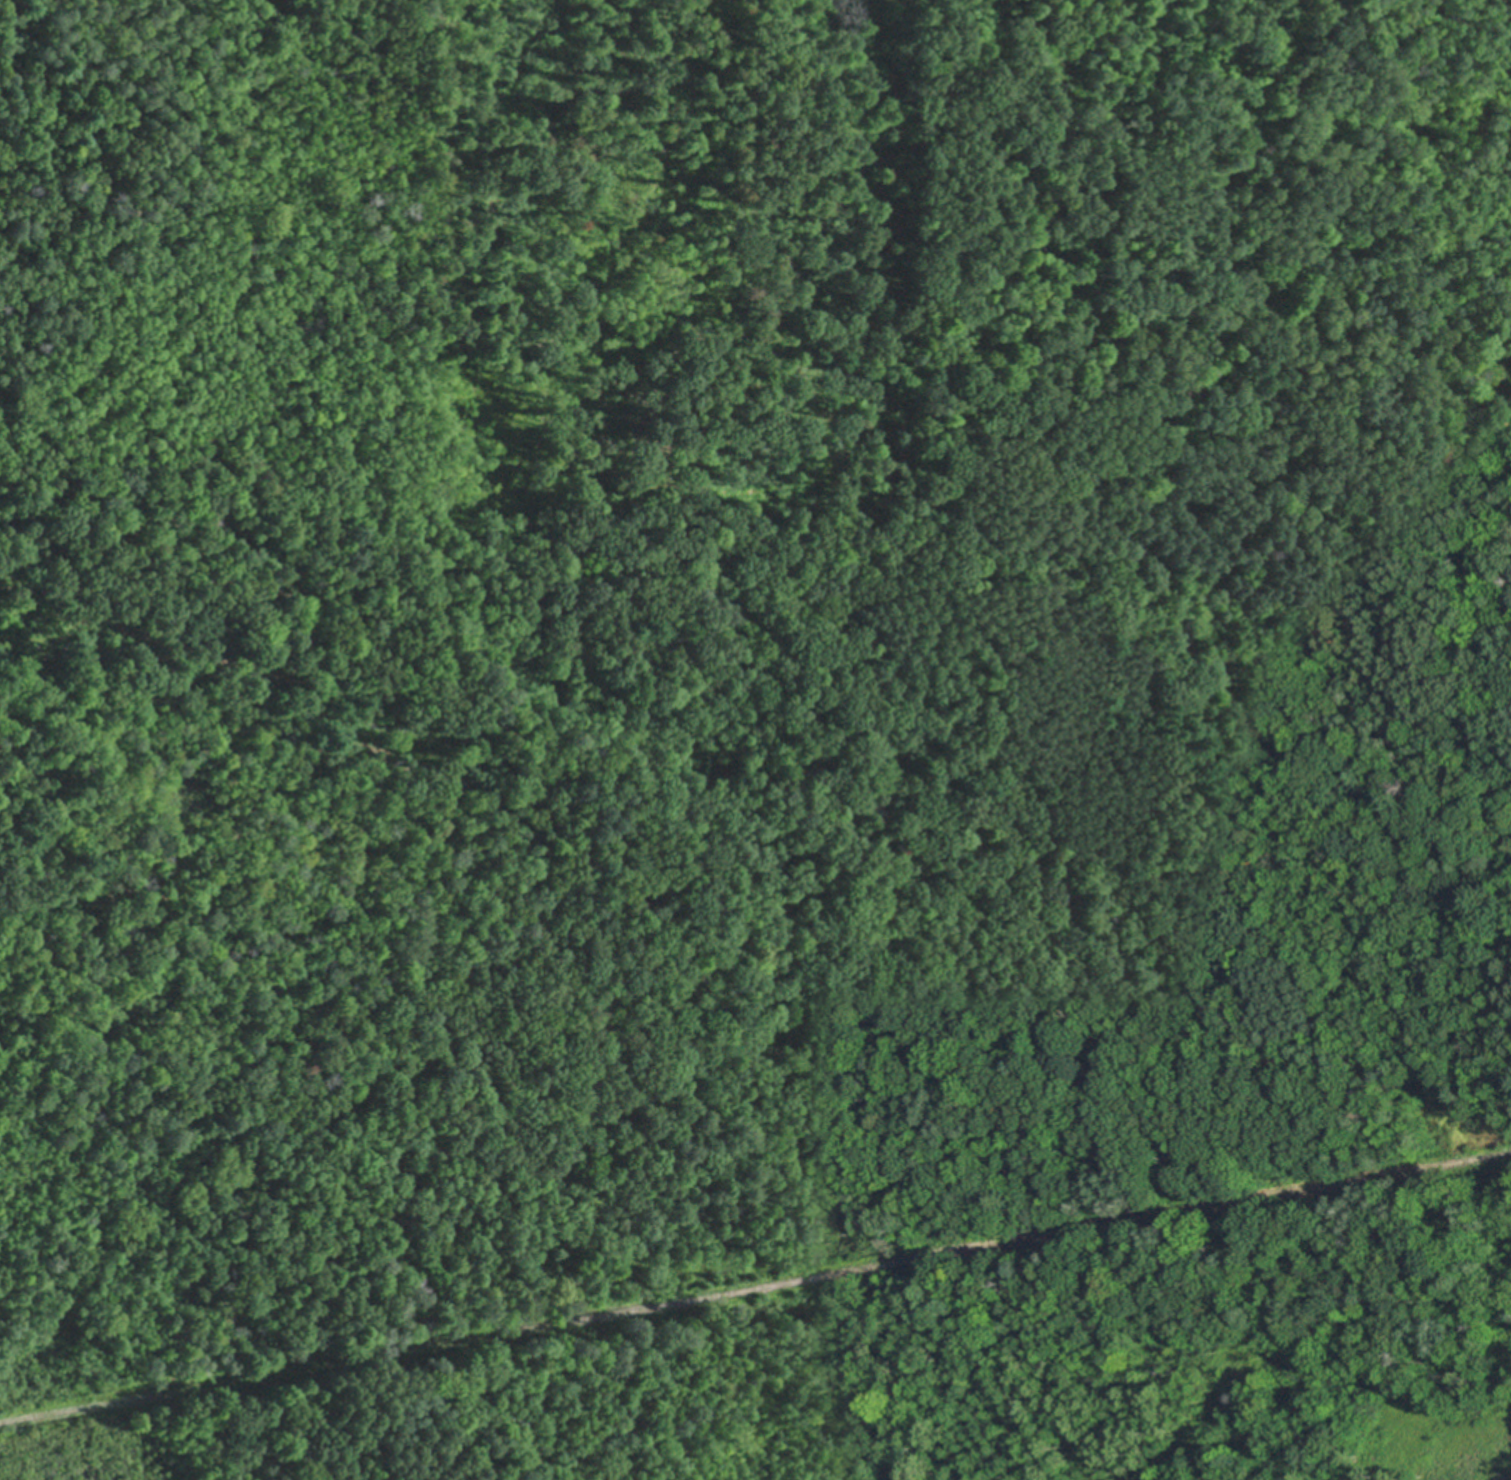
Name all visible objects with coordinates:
railway: (755, 1287)

